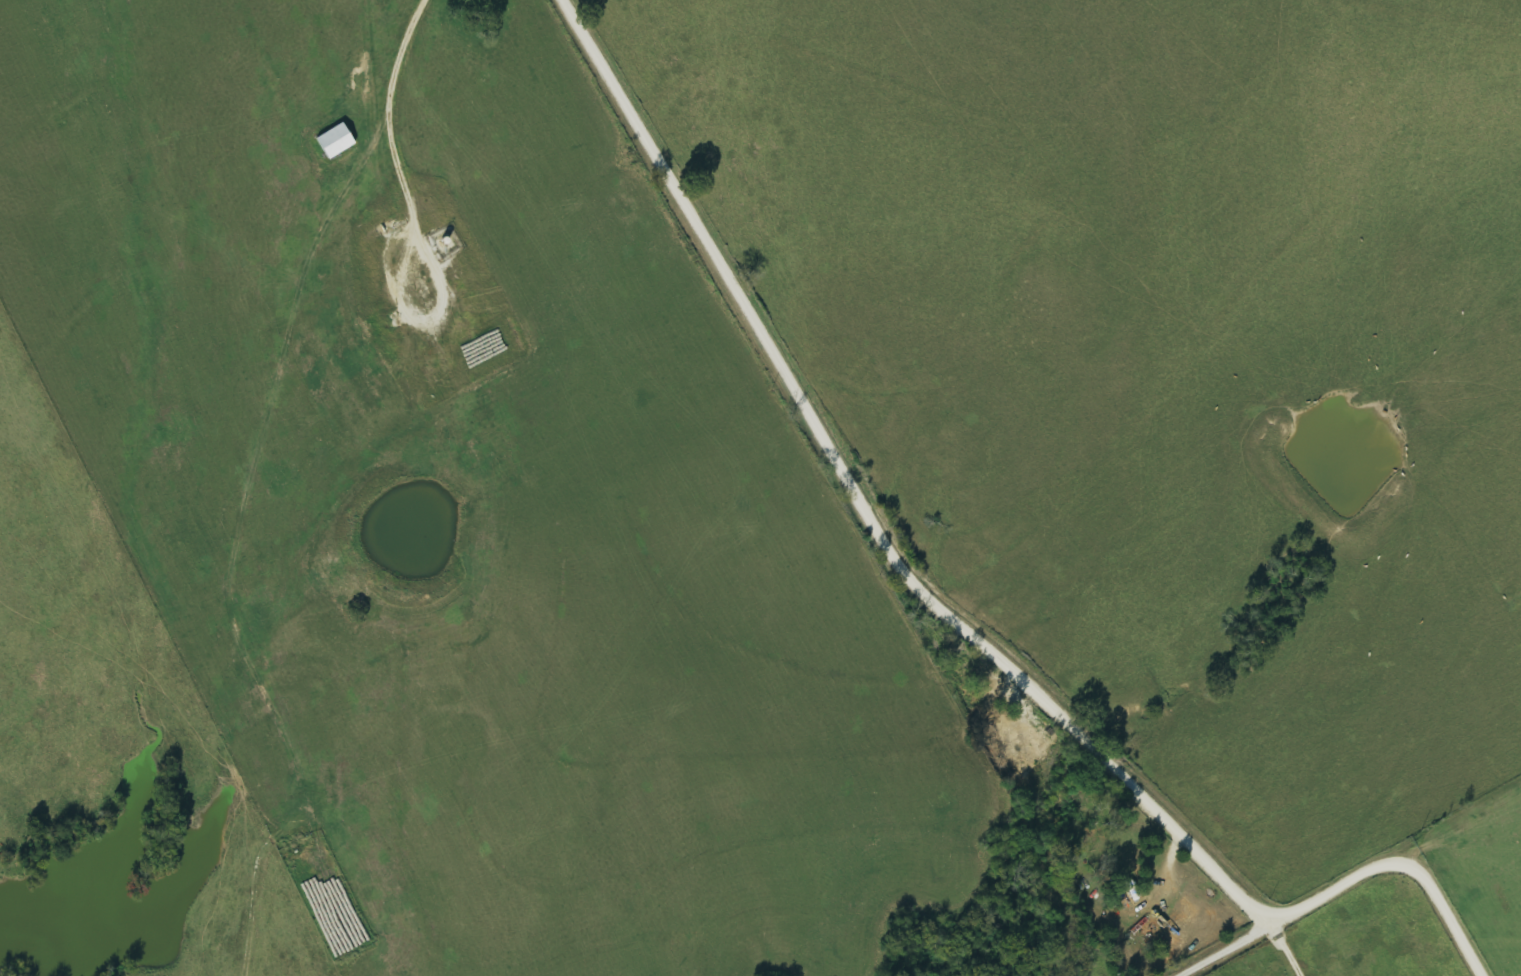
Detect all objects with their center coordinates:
building: (333, 143)
road: (865, 505)
road: (1399, 865)
road: (1226, 949)
dam: (191, 964)

